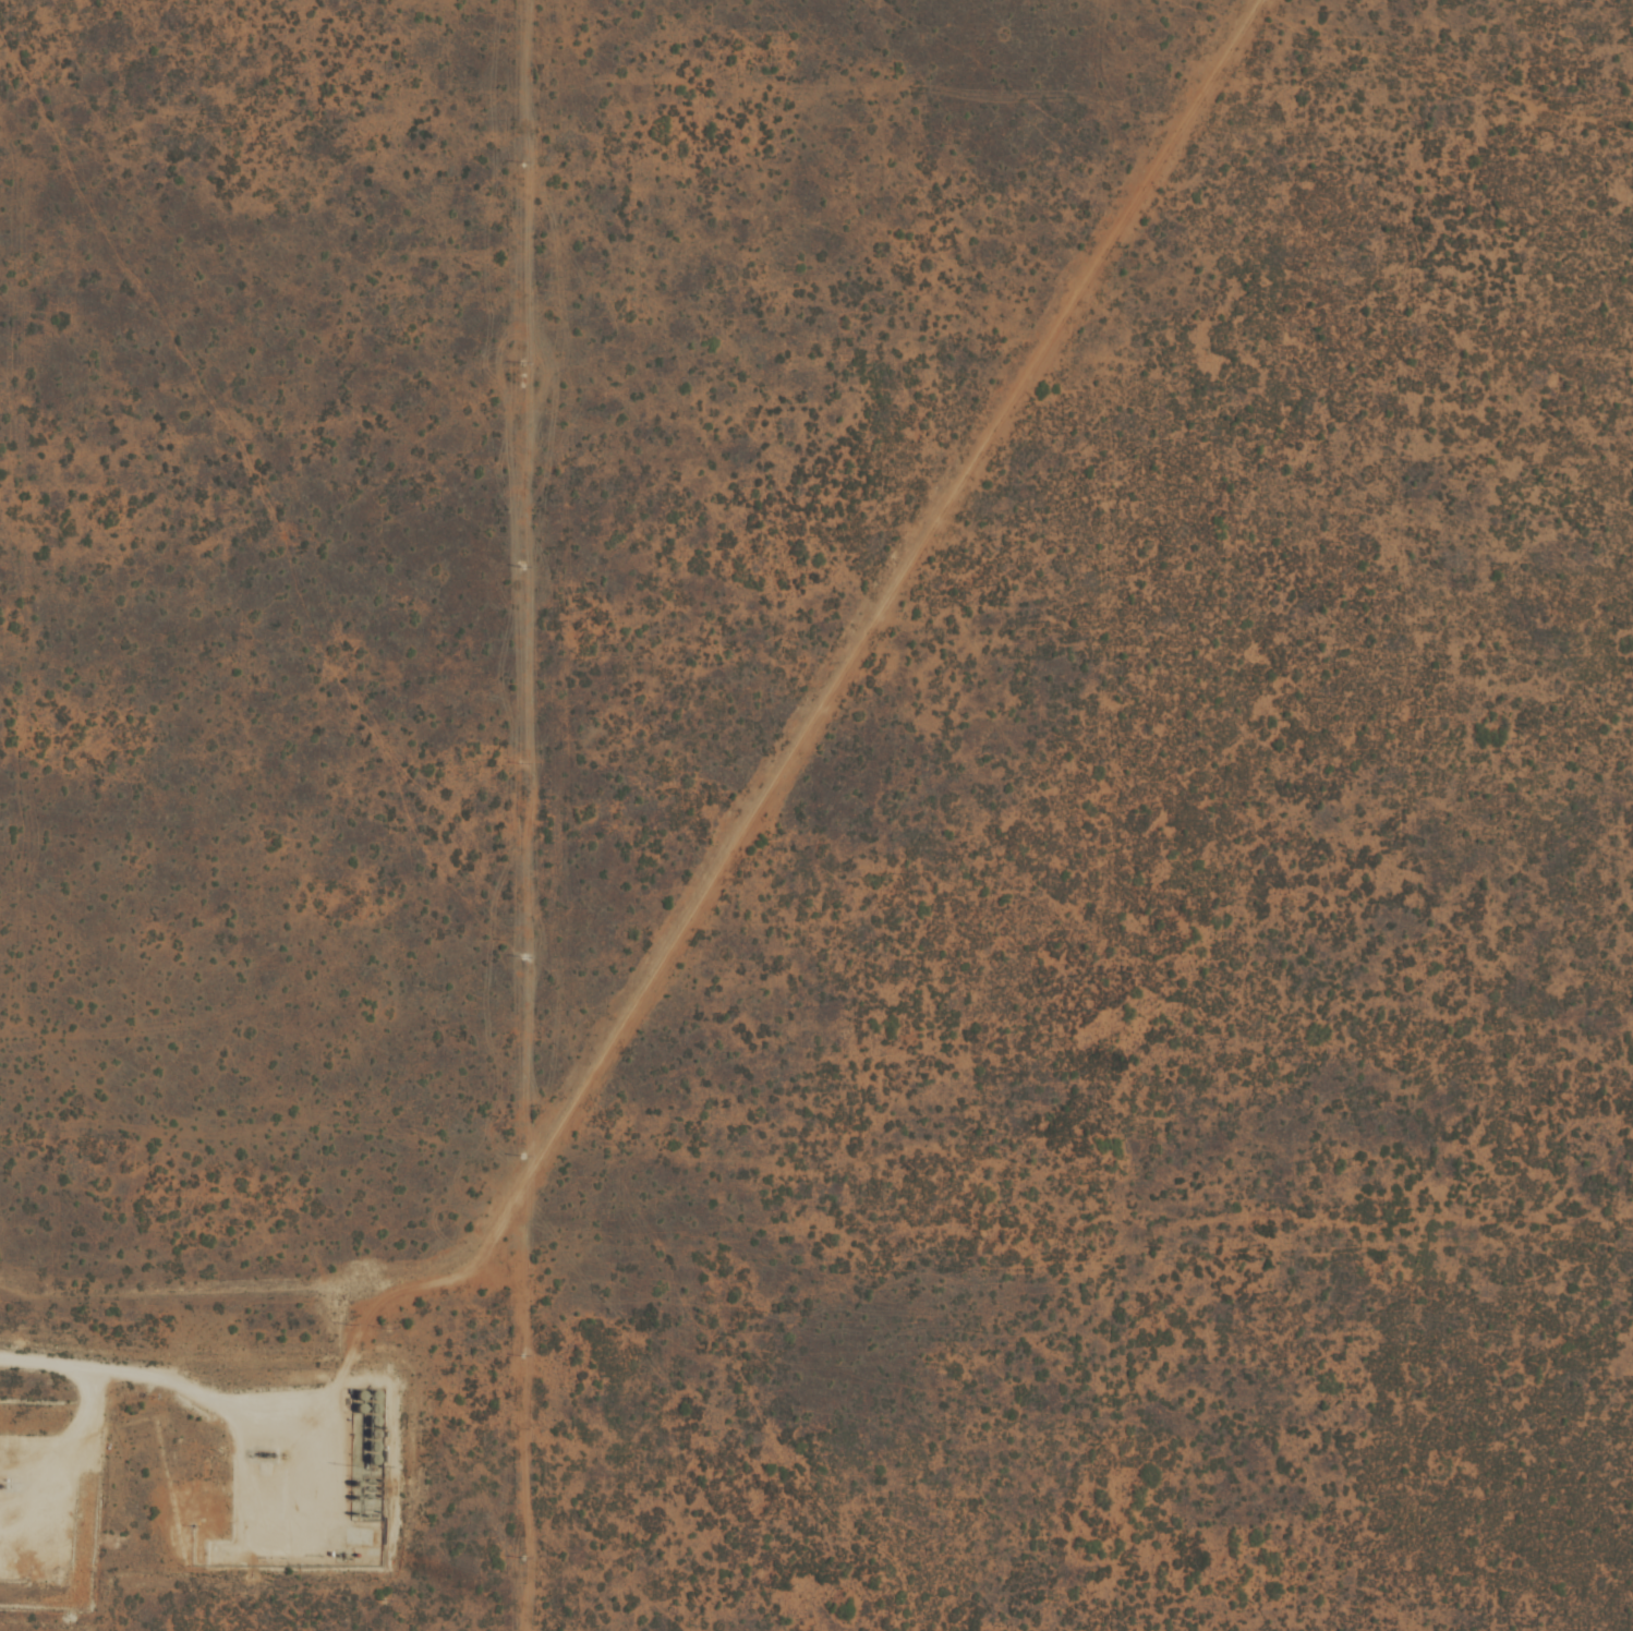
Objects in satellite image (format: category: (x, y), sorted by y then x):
road: (776, 789)
road: (194, 1390)

